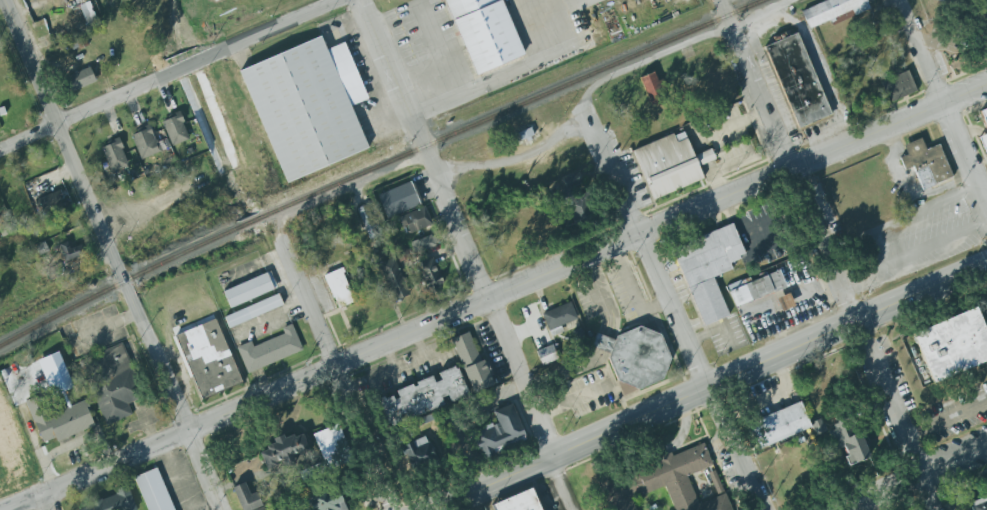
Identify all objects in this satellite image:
road: (719, 9)
road: (554, 11)
building: (830, 11)
building: (87, 12)
parking lot: (962, 30)
road: (952, 31)
building: (484, 33)
road: (681, 46)
road: (437, 48)
road: (819, 68)
road: (966, 72)
road: (390, 74)
road: (170, 75)
building: (80, 79)
road: (495, 80)
parking lot: (969, 80)
building: (796, 81)
building: (652, 87)
building: (898, 87)
parking lot: (771, 88)
road: (899, 101)
road: (942, 106)
building: (297, 109)
building: (979, 127)
building: (175, 129)
building: (525, 134)
road: (61, 140)
building: (148, 143)
building: (114, 155)
road: (513, 159)
building: (925, 163)
railway: (379, 166)
building: (669, 166)
road: (734, 174)
building: (572, 180)
building: (49, 201)
building: (404, 205)
building: (577, 205)
building: (368, 222)
parking lot: (914, 240)
building: (424, 244)
road: (879, 247)
road: (554, 252)
building: (401, 253)
building: (68, 255)
road: (830, 263)
building: (708, 269)
building: (429, 275)
building: (393, 279)
building: (756, 286)
building: (339, 287)
parking lot: (626, 288)
building: (249, 289)
road: (602, 295)
road: (495, 296)
building: (785, 302)
road: (669, 307)
building: (253, 310)
building: (559, 318)
road: (102, 327)
road: (497, 329)
parking lot: (726, 335)
road: (603, 343)
building: (947, 346)
building: (269, 349)
building: (547, 355)
building: (635, 356)
building: (208, 359)
building: (471, 361)
parking lot: (896, 372)
road: (564, 373)
road: (336, 374)
building: (110, 382)
road: (710, 386)
road: (171, 395)
building: (421, 397)
parking lot: (956, 414)
building: (58, 419)
road: (946, 419)
building: (778, 425)
building: (499, 432)
building: (847, 443)
building: (332, 447)
building: (284, 449)
building: (417, 453)
road: (51, 457)
building: (313, 471)
road: (177, 477)
road: (914, 477)
building: (677, 479)
building: (715, 482)
building: (153, 490)
building: (618, 492)
building: (247, 498)
building: (520, 501)
road: (44, 502)
building: (111, 502)
building: (978, 502)
building: (328, 503)
road: (206, 506)
building: (636, 509)

